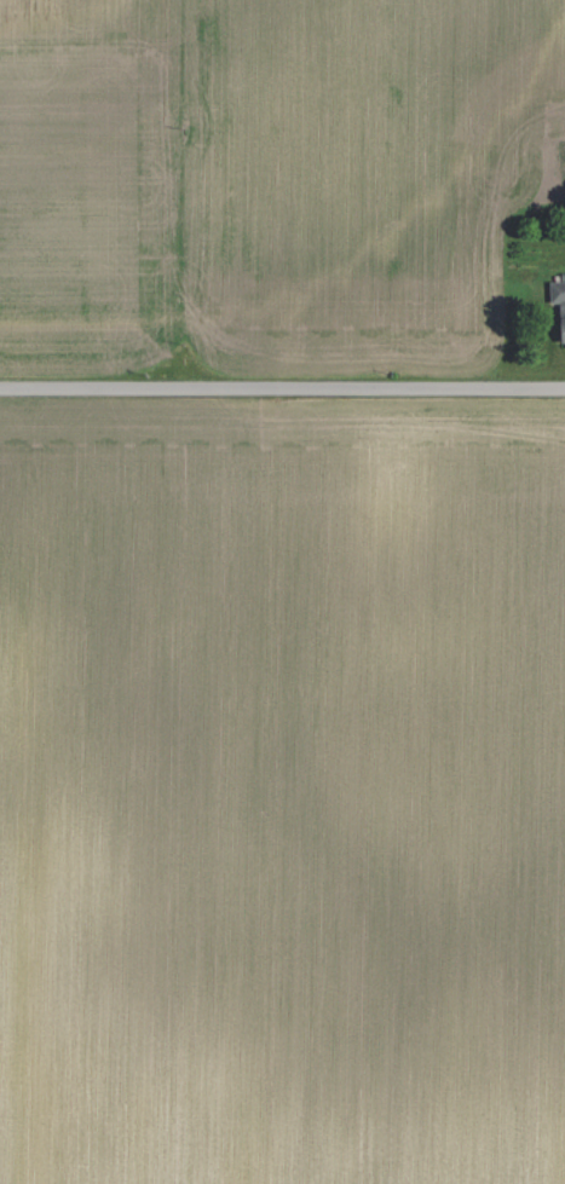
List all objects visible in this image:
building: (559, 298)
road: (282, 388)

